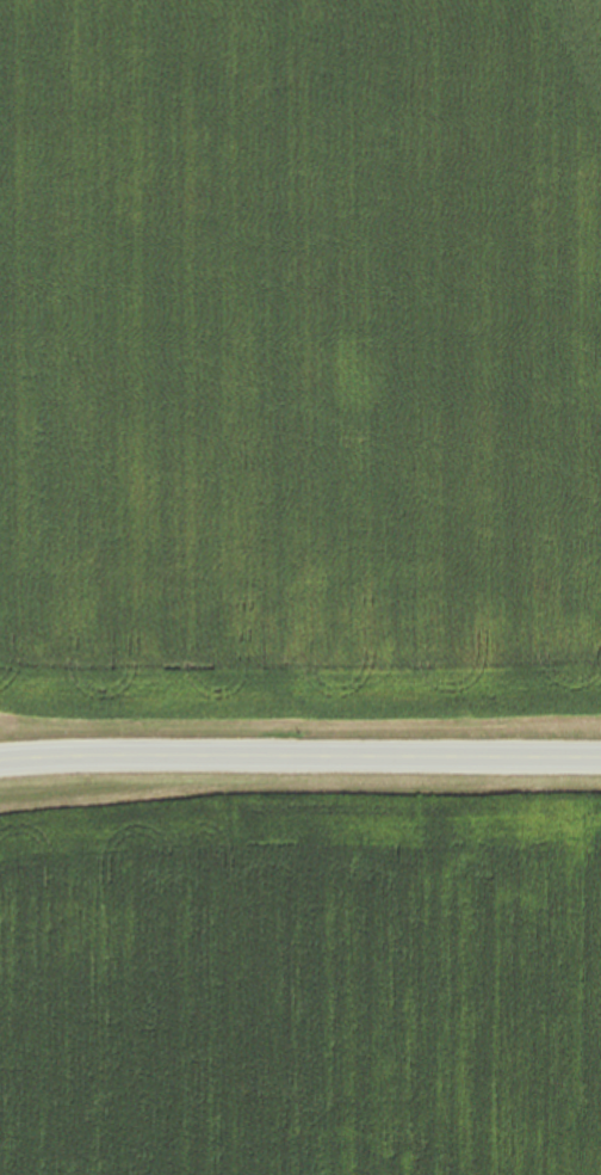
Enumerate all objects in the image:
road: (299, 756)

